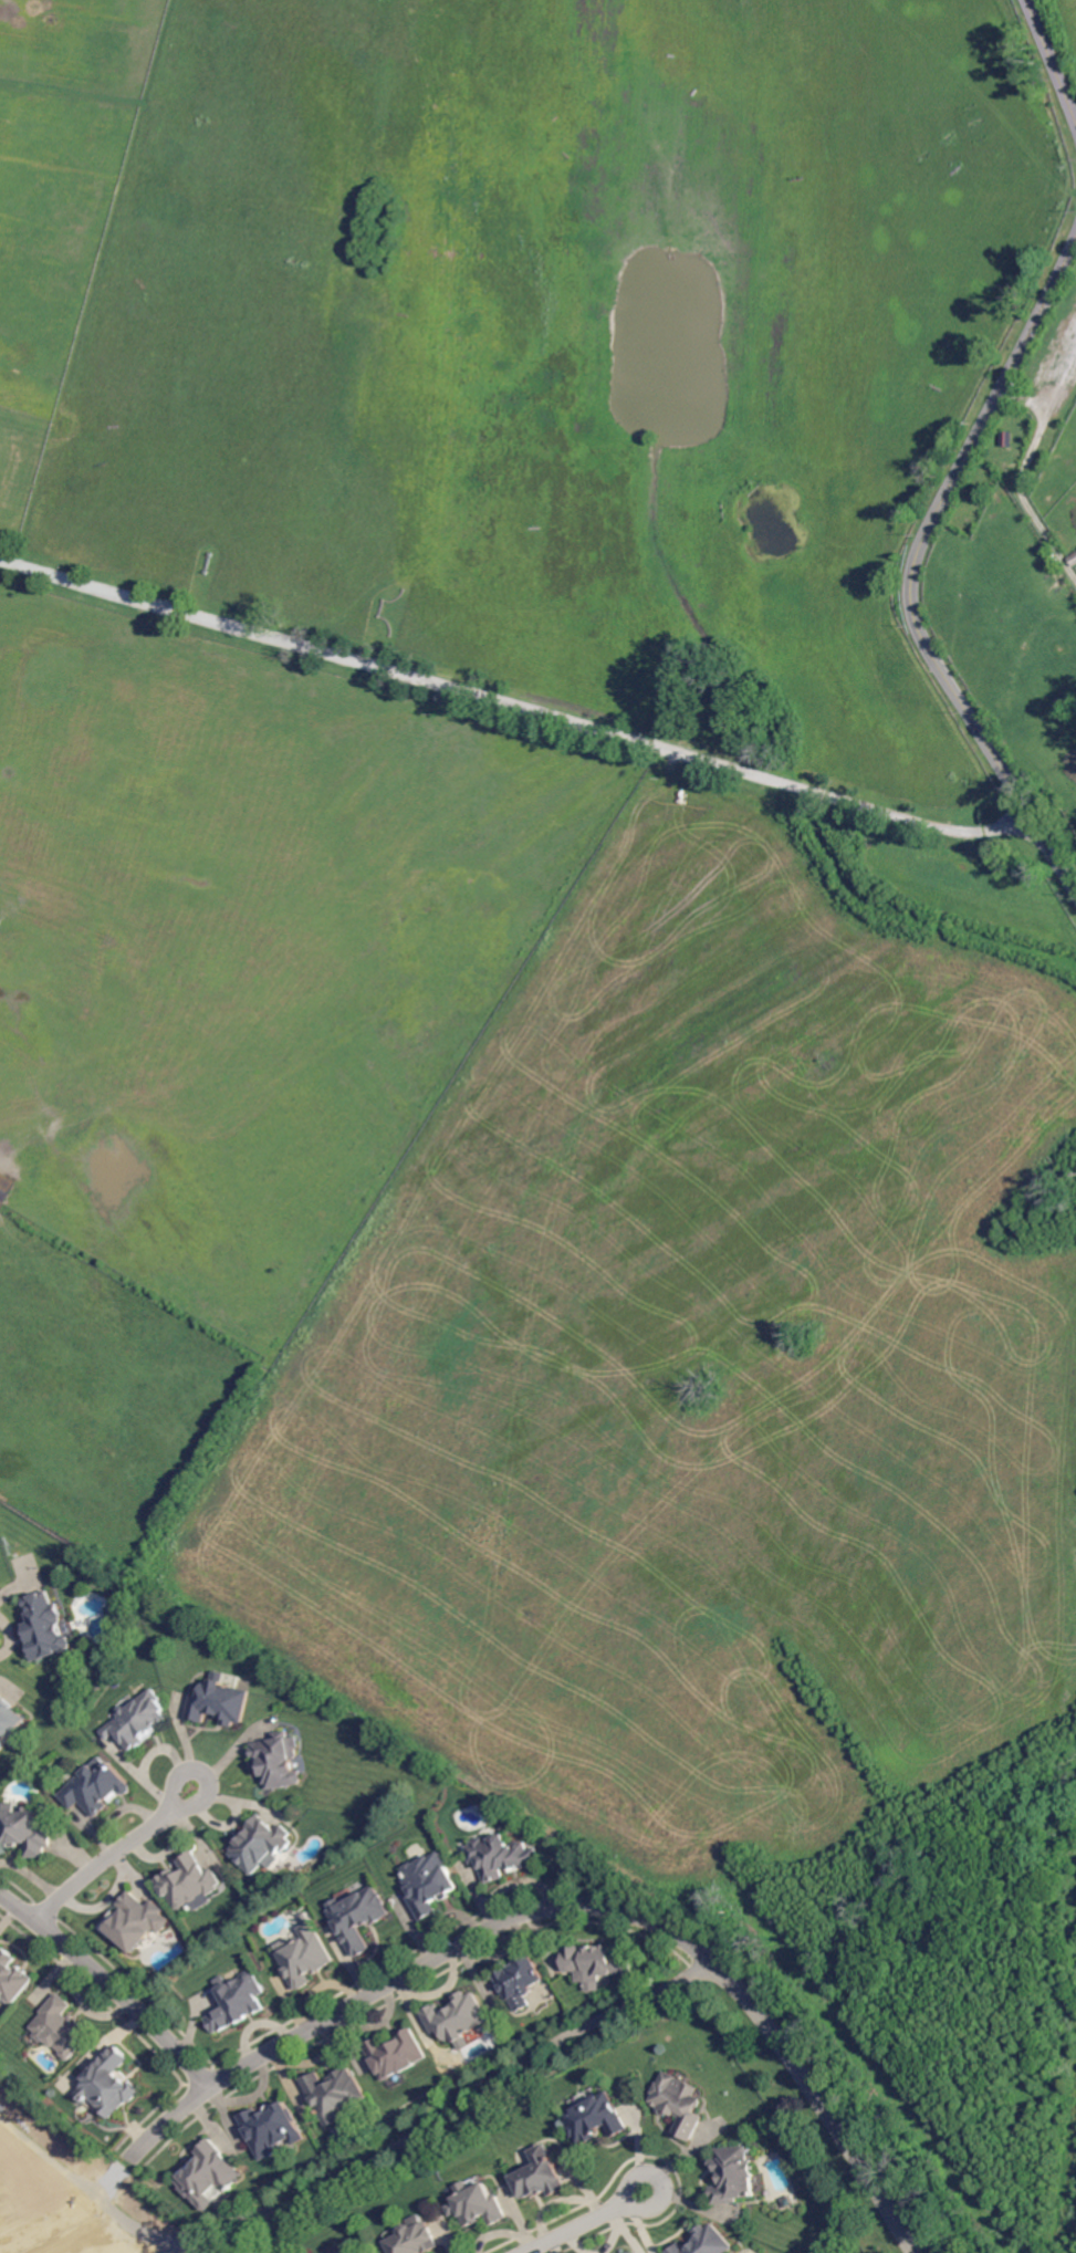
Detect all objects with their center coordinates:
road: (1053, 59)
building: (1007, 440)
building: (1073, 561)
road: (915, 570)
building: (1067, 701)
road: (514, 703)
building: (6, 1187)
building: (112, 1613)
building: (44, 1627)
building: (219, 1702)
building: (8, 1722)
building: (137, 1722)
building: (278, 1762)
building: (95, 1788)
building: (23, 1830)
road: (128, 1846)
building: (260, 1846)
building: (501, 1857)
building: (189, 1885)
building: (429, 1885)
road: (576, 1901)
building: (358, 1918)
building: (136, 1922)
building: (303, 1959)
building: (596, 1963)
building: (11, 1979)
road: (109, 1980)
building: (521, 1980)
building: (236, 2002)
building: (458, 2020)
building: (59, 2028)
building: (396, 2055)
building: (107, 2085)
building: (334, 2095)
building: (679, 2104)
building: (596, 2119)
building: (271, 2130)
building: (207, 2176)
building: (541, 2176)
building: (734, 2176)
road: (72, 2204)
building: (477, 2204)
road: (603, 2219)
building: (415, 2238)
building: (707, 2242)
building: (351, 2249)
building: (337, 2252)

